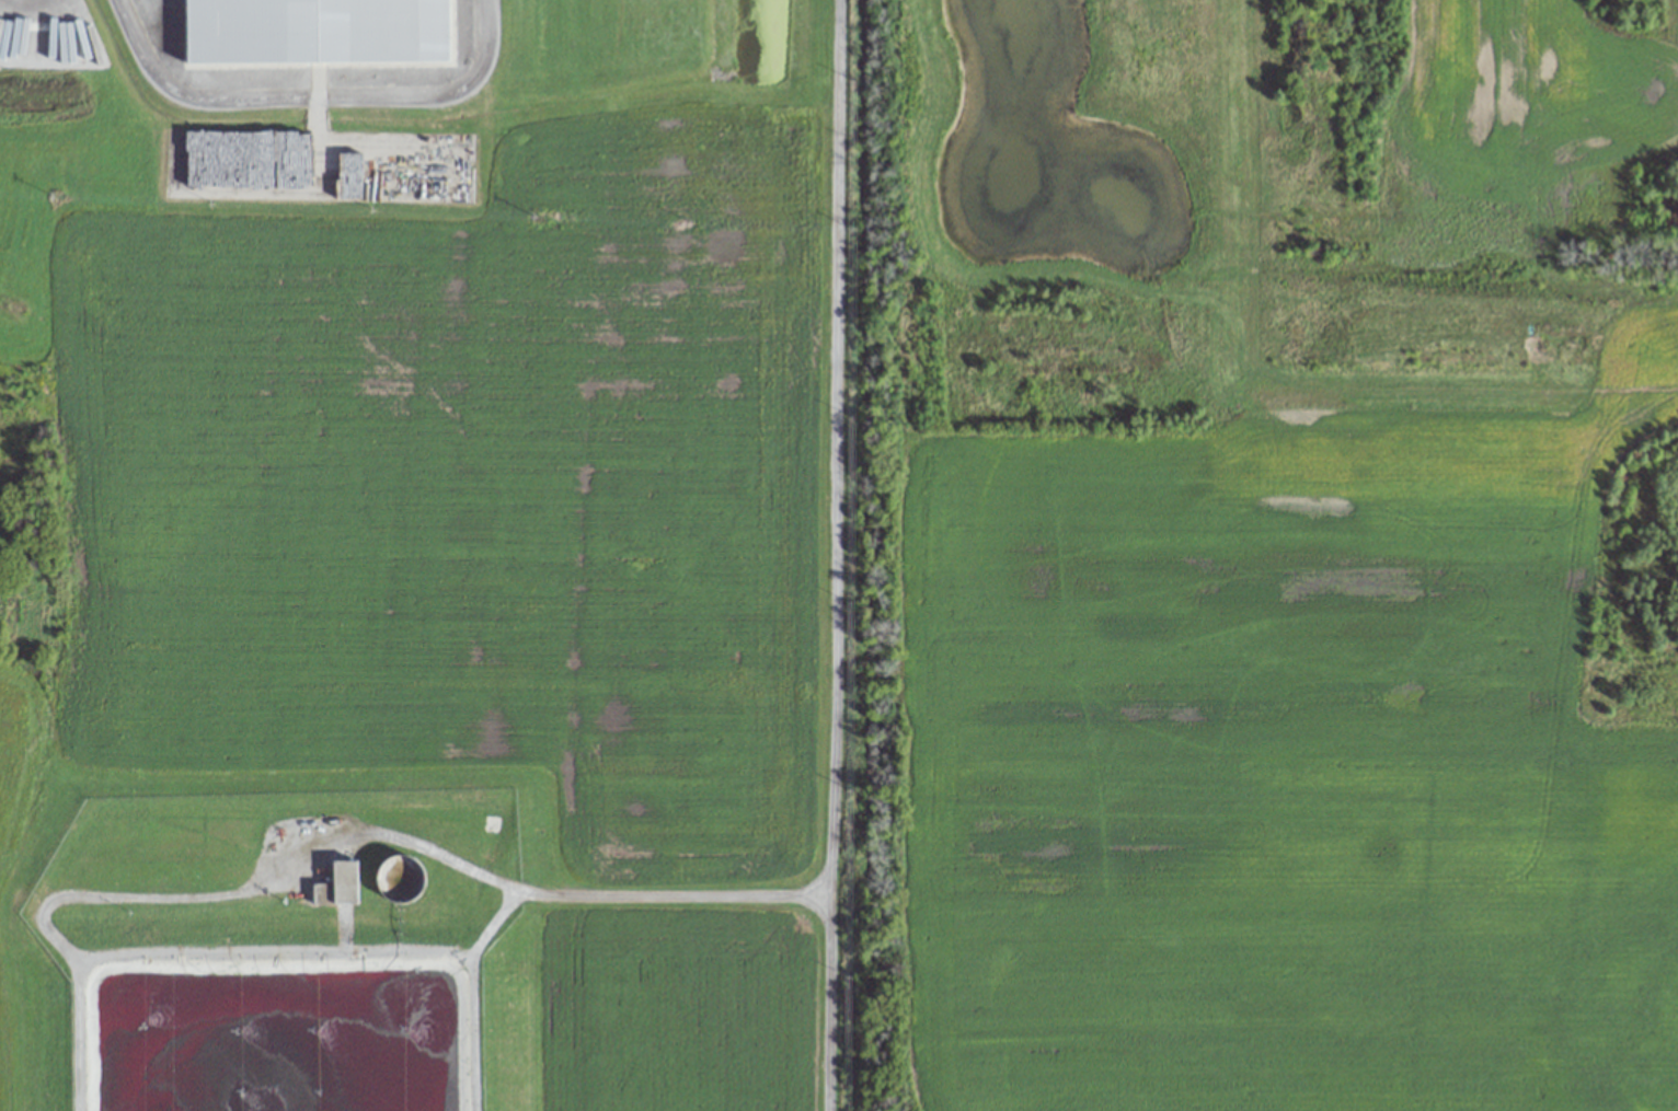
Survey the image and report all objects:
building: (317, 31)
road: (835, 555)
crop: (1280, 764)
road: (533, 890)
building: (323, 892)

